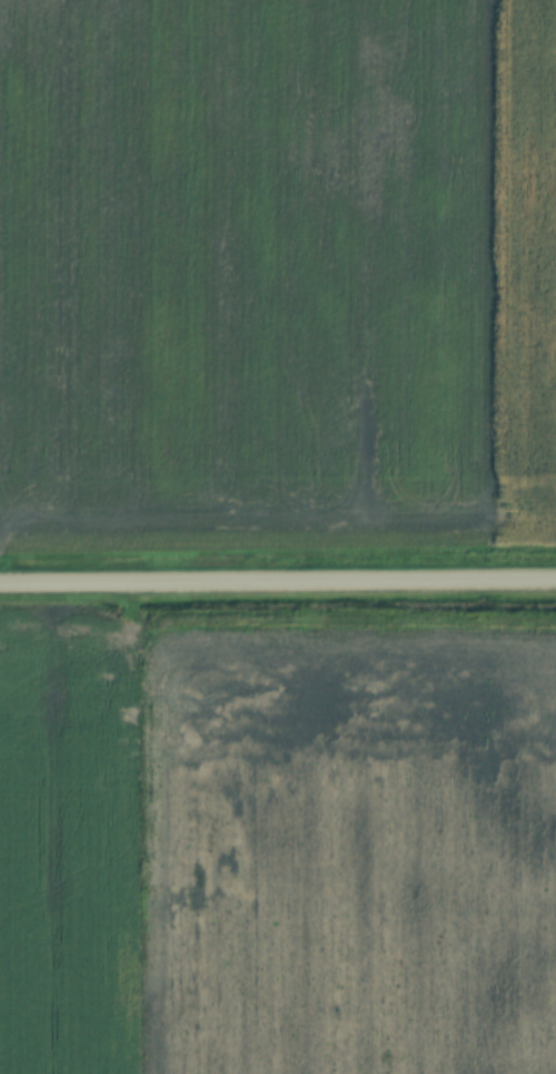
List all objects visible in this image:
road: (278, 580)

